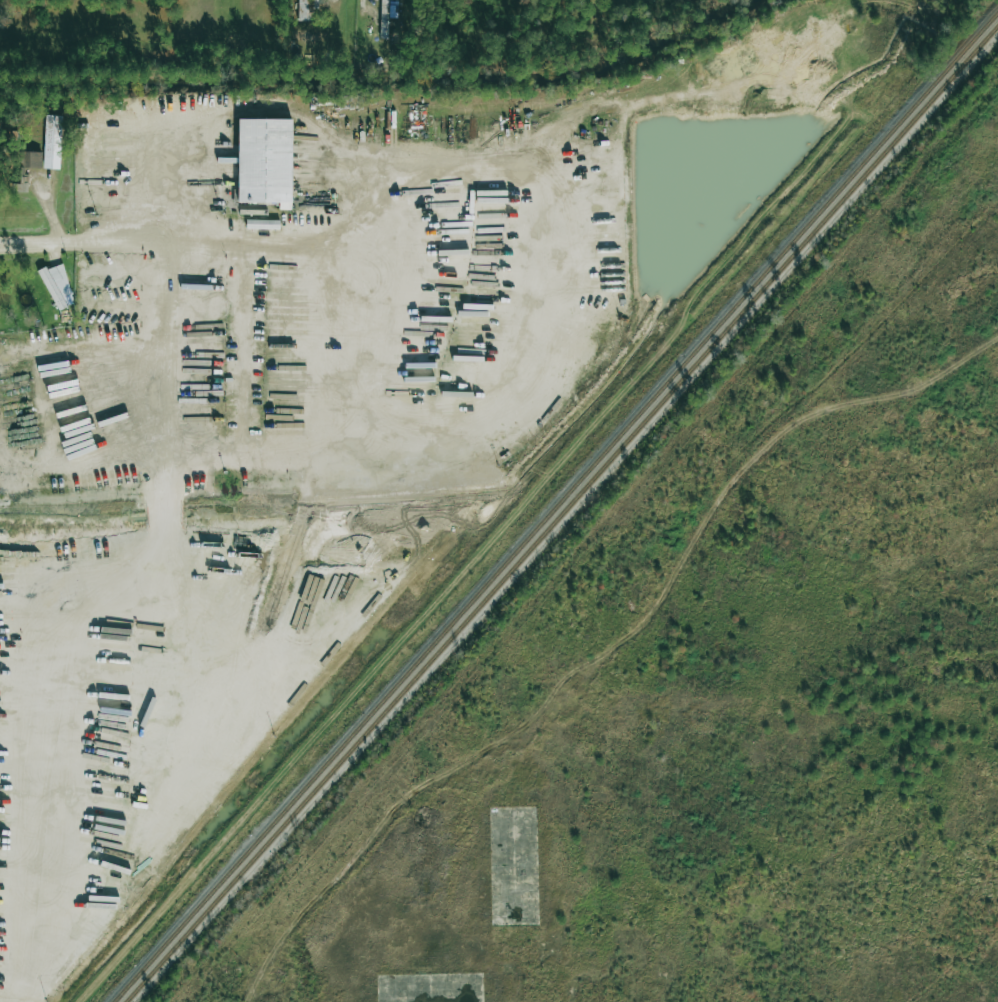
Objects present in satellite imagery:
building: (303, 10)
building: (384, 18)
building: (52, 142)
building: (264, 161)
building: (25, 168)
road: (118, 242)
building: (57, 287)
railway: (555, 507)
railway: (561, 514)

